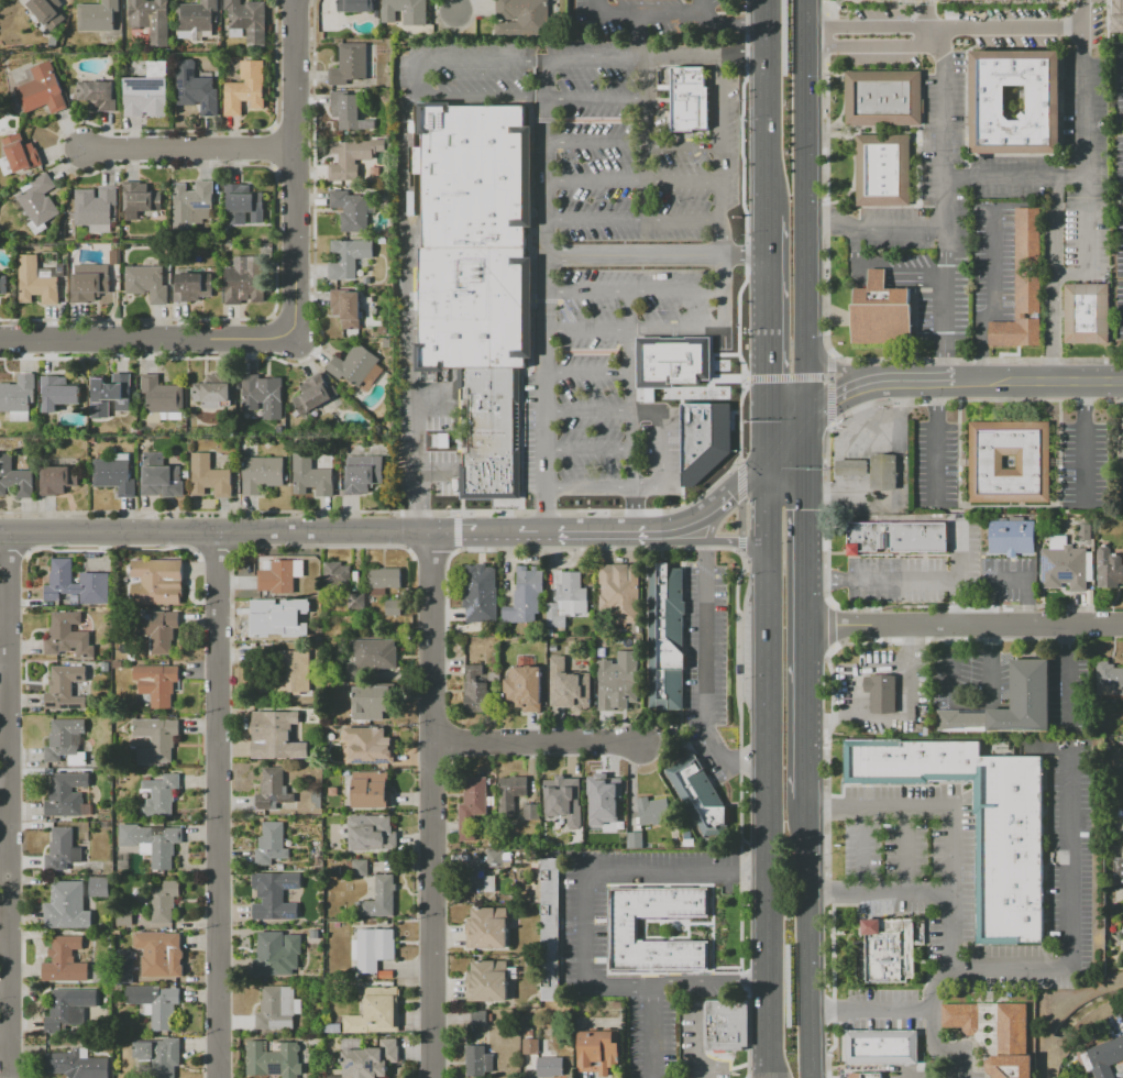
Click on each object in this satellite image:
building: (355, 4)
road: (455, 5)
road: (701, 7)
road: (827, 7)
building: (47, 11)
building: (405, 11)
road: (641, 13)
road: (1081, 13)
building: (98, 15)
building: (197, 15)
building: (521, 16)
building: (1119, 16)
building: (151, 19)
building: (247, 20)
road: (731, 22)
road: (866, 28)
road: (1005, 28)
road: (825, 36)
road: (1102, 42)
road: (871, 47)
road: (656, 57)
building: (350, 65)
road: (419, 77)
building: (245, 88)
building: (42, 89)
building: (196, 89)
building: (147, 91)
building: (99, 94)
building: (685, 96)
road: (596, 97)
building: (883, 98)
building: (1043, 98)
road: (766, 108)
building: (345, 109)
road: (646, 116)
road: (595, 143)
road: (683, 145)
road: (188, 147)
building: (19, 155)
building: (352, 157)
road: (401, 162)
road: (294, 169)
building: (882, 169)
road: (1082, 172)
road: (634, 182)
road: (945, 188)
road: (723, 193)
building: (140, 199)
building: (38, 201)
building: (191, 204)
building: (242, 204)
road: (824, 206)
building: (96, 208)
building: (351, 210)
road: (803, 210)
road: (634, 220)
road: (873, 227)
road: (745, 233)
road: (1085, 241)
road: (656, 255)
building: (115, 256)
building: (349, 257)
road: (882, 265)
parking lot: (610, 268)
building: (477, 275)
building: (37, 279)
road: (1053, 279)
building: (244, 280)
building: (147, 283)
building: (3, 284)
building: (192, 286)
building: (89, 287)
building: (1022, 287)
road: (635, 290)
road: (993, 297)
road: (547, 298)
building: (348, 307)
building: (880, 311)
building: (1087, 312)
road: (636, 331)
road: (766, 339)
road: (146, 341)
building: (387, 343)
road: (976, 359)
building: (672, 361)
road: (830, 363)
building: (354, 365)
road: (837, 369)
road: (951, 369)
road: (588, 372)
road: (782, 376)
road: (825, 376)
road: (830, 376)
road: (912, 381)
road: (1037, 381)
road: (630, 388)
road: (407, 389)
building: (213, 391)
building: (57, 393)
building: (315, 394)
road: (960, 394)
building: (112, 395)
building: (263, 395)
building: (18, 397)
road: (836, 397)
building: (163, 399)
road: (973, 399)
road: (830, 403)
road: (588, 410)
traffic signals: (803, 421)
building: (703, 438)
road: (784, 441)
road: (934, 441)
road: (1082, 443)
road: (588, 449)
building: (1121, 452)
building: (1033, 461)
traffic signals: (767, 462)
road: (661, 464)
building: (850, 466)
building: (882, 471)
building: (115, 474)
building: (262, 474)
building: (312, 474)
building: (364, 474)
building: (158, 475)
building: (210, 476)
building: (14, 477)
building: (58, 480)
road: (746, 480)
road: (739, 481)
road: (590, 488)
road: (640, 488)
road: (766, 502)
road: (378, 510)
road: (632, 510)
road: (648, 510)
road: (709, 510)
road: (739, 518)
road: (318, 519)
road: (714, 519)
road: (675, 528)
building: (1085, 532)
road: (216, 533)
road: (590, 533)
road: (640, 533)
road: (652, 533)
road: (462, 535)
road: (519, 535)
building: (896, 536)
building: (1012, 537)
road: (216, 542)
road: (681, 542)
road: (736, 542)
traffic signals: (766, 542)
road: (740, 544)
road: (321, 547)
road: (432, 548)
road: (596, 548)
road: (110, 549)
road: (954, 551)
road: (431, 552)
road: (12, 553)
road: (232, 554)
road: (197, 555)
road: (214, 555)
building: (1063, 565)
building: (1109, 569)
road: (216, 570)
building: (280, 576)
building: (337, 576)
road: (904, 576)
road: (1006, 579)
building: (384, 580)
building: (157, 582)
building: (76, 584)
building: (620, 591)
building: (480, 593)
building: (525, 595)
road: (432, 597)
building: (566, 598)
building: (355, 601)
building: (393, 608)
road: (804, 613)
building: (123, 618)
building: (274, 623)
road: (1109, 626)
road: (949, 627)
building: (636, 628)
building: (159, 630)
road: (216, 634)
building: (67, 636)
building: (667, 636)
building: (372, 656)
building: (117, 664)
building: (104, 667)
building: (289, 674)
road: (707, 674)
building: (493, 675)
building: (1109, 675)
road: (1064, 678)
building: (617, 681)
building: (157, 683)
building: (1030, 684)
building: (569, 685)
building: (65, 687)
building: (524, 687)
building: (475, 690)
building: (881, 693)
road: (972, 701)
building: (373, 702)
road: (896, 717)
road: (7, 732)
building: (274, 735)
building: (155, 740)
building: (65, 741)
road: (535, 741)
building: (368, 745)
building: (371, 789)
building: (272, 790)
building: (602, 790)
building: (510, 794)
building: (66, 795)
building: (161, 795)
building: (700, 796)
building: (564, 799)
building: (472, 807)
building: (653, 810)
road: (766, 810)
building: (531, 811)
building: (619, 811)
road: (739, 816)
building: (980, 820)
building: (1122, 828)
building: (371, 833)
building: (634, 833)
road: (950, 835)
building: (152, 842)
building: (271, 844)
road: (861, 849)
road: (905, 849)
building: (63, 850)
road: (432, 856)
building: (498, 858)
building: (359, 867)
road: (216, 870)
building: (1118, 871)
building: (478, 880)
road: (599, 884)
road: (563, 886)
road: (569, 886)
road: (583, 886)
building: (99, 887)
road: (834, 893)
road: (906, 893)
building: (275, 895)
building: (379, 898)
building: (164, 901)
building: (709, 901)
building: (67, 905)
road: (1066, 914)
building: (124, 916)
road: (585, 919)
road: (599, 920)
road: (583, 921)
road: (568, 922)
road: (698, 923)
building: (487, 928)
road: (560, 928)
building: (625, 928)
road: (642, 928)
road: (686, 928)
road: (711, 928)
building: (549, 930)
building: (310, 934)
road: (606, 942)
road: (805, 942)
building: (373, 948)
building: (889, 949)
building: (161, 953)
building: (273, 955)
road: (566, 959)
road: (582, 959)
road: (599, 959)
building: (65, 960)
building: (123, 967)
road: (725, 967)
road: (640, 975)
building: (101, 977)
road: (707, 979)
building: (487, 981)
road: (639, 988)
road: (7, 990)
road: (634, 1000)
flagpole: (598, 1002)
flagpole: (603, 1002)
building: (156, 1004)
building: (277, 1008)
road: (870, 1009)
building: (375, 1011)
building: (64, 1012)
building: (478, 1018)
building: (725, 1025)
building: (331, 1027)
building: (994, 1034)
road: (698, 1043)
road: (947, 1043)
building: (531, 1046)
building: (881, 1047)
building: (598, 1052)
building: (161, 1056)
building: (1103, 1057)
road: (720, 1058)
building: (273, 1059)
building: (371, 1060)
building: (478, 1061)
road: (7, 1064)
building: (78, 1064)
building: (550, 1066)
road: (737, 1066)
road: (907, 1074)
building: (866, 1075)
building: (334, 1076)

